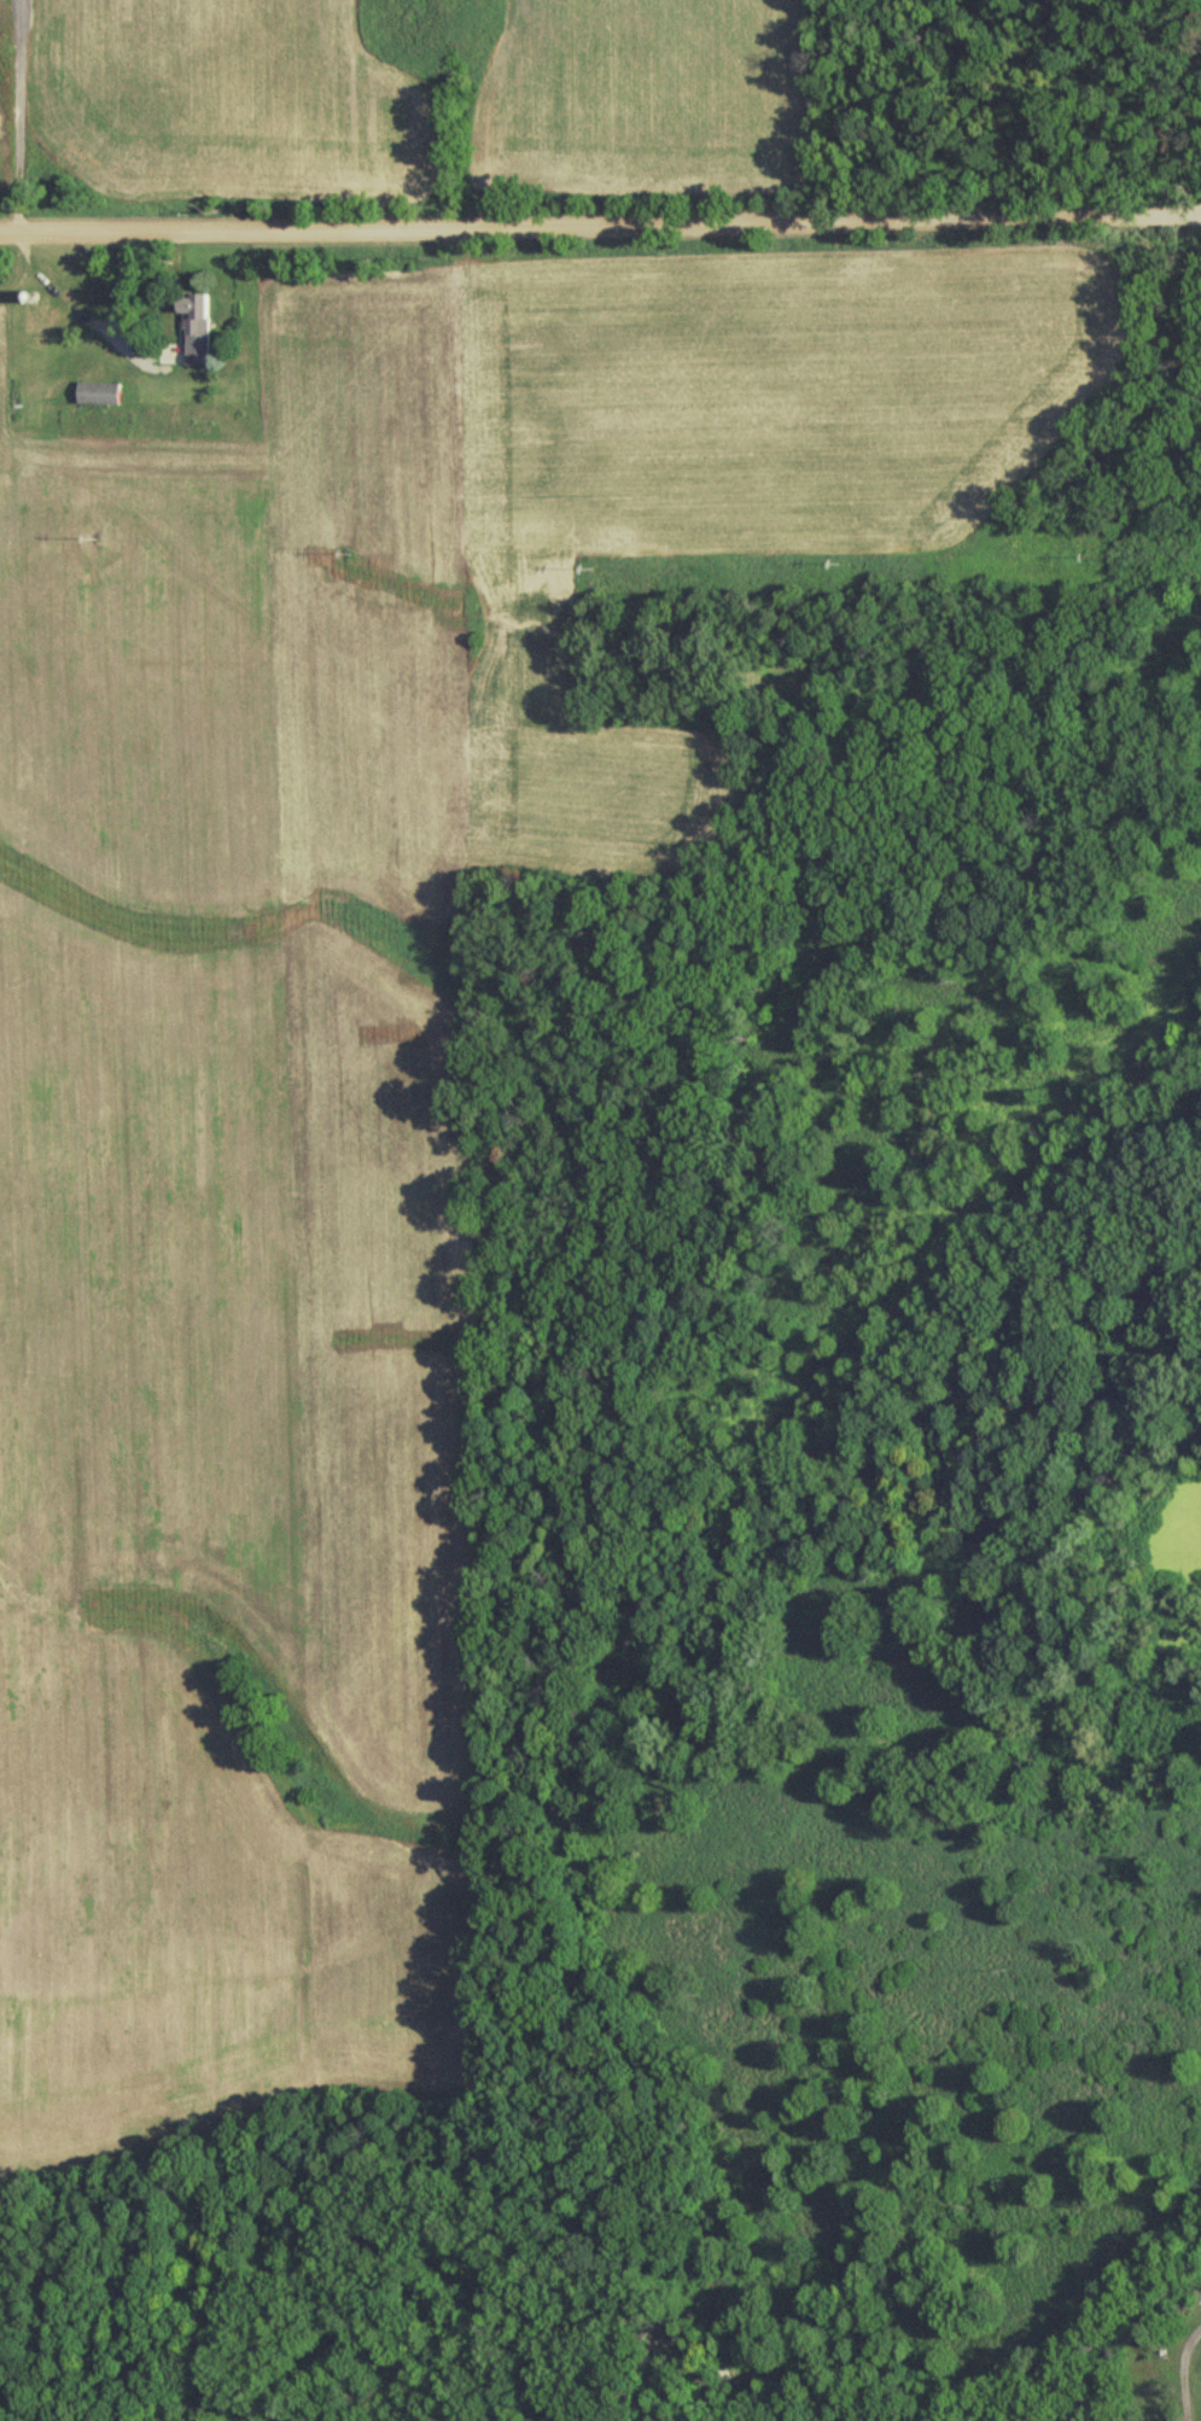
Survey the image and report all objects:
road: (600, 227)
building: (193, 327)
building: (93, 391)

